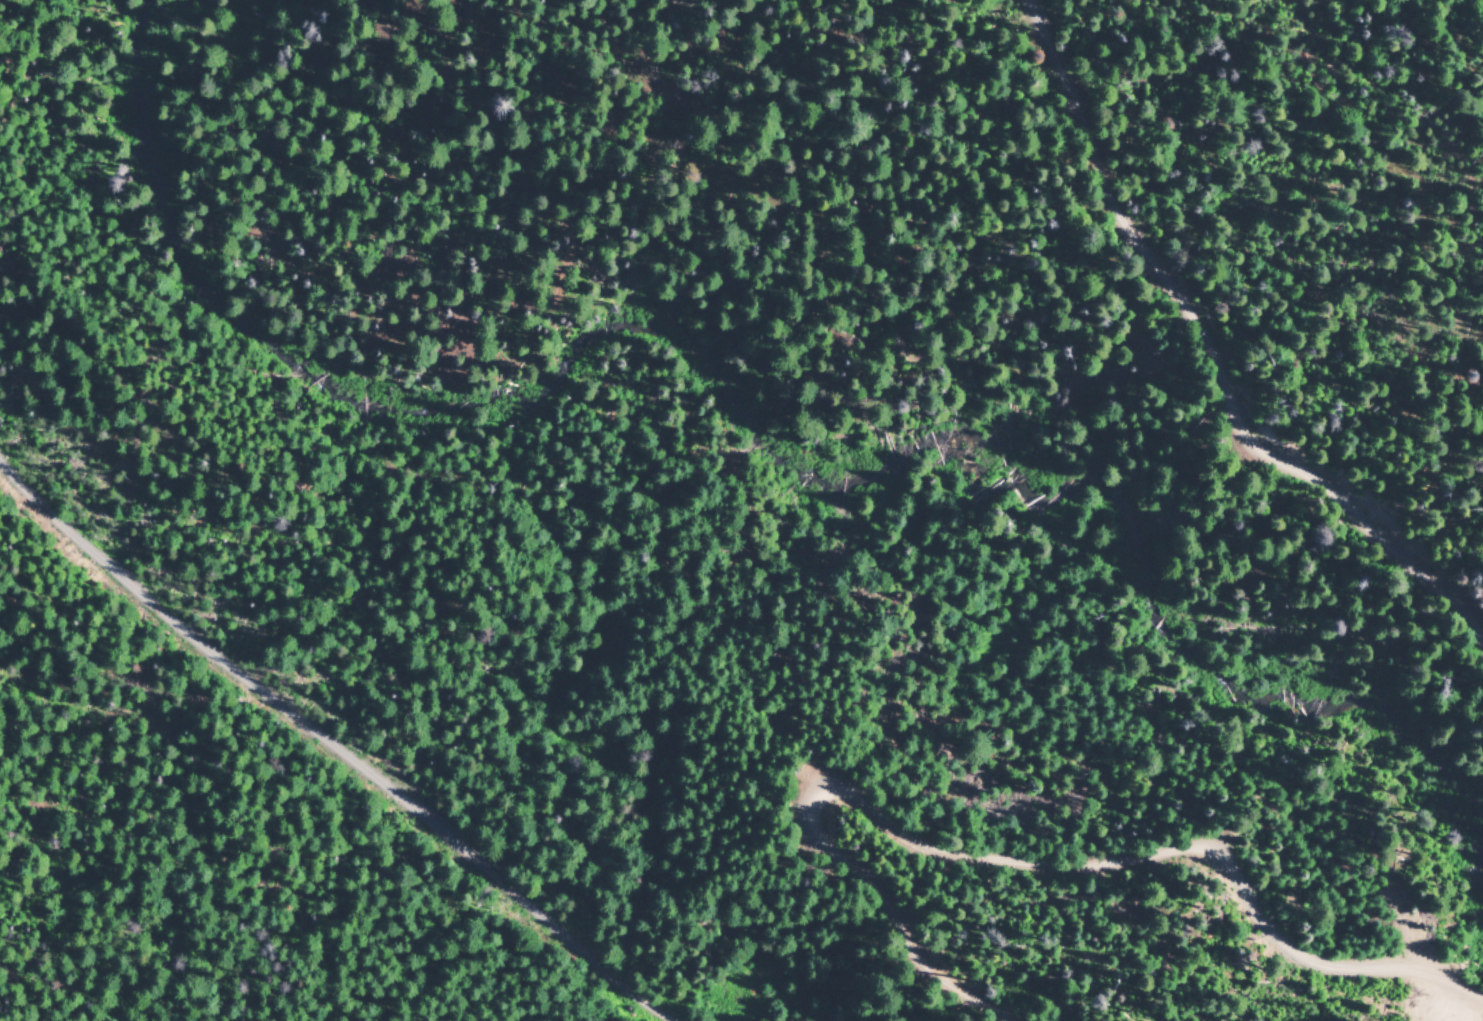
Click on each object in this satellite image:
road: (1322, 49)
road: (1207, 362)
road: (381, 744)
road: (1013, 858)

